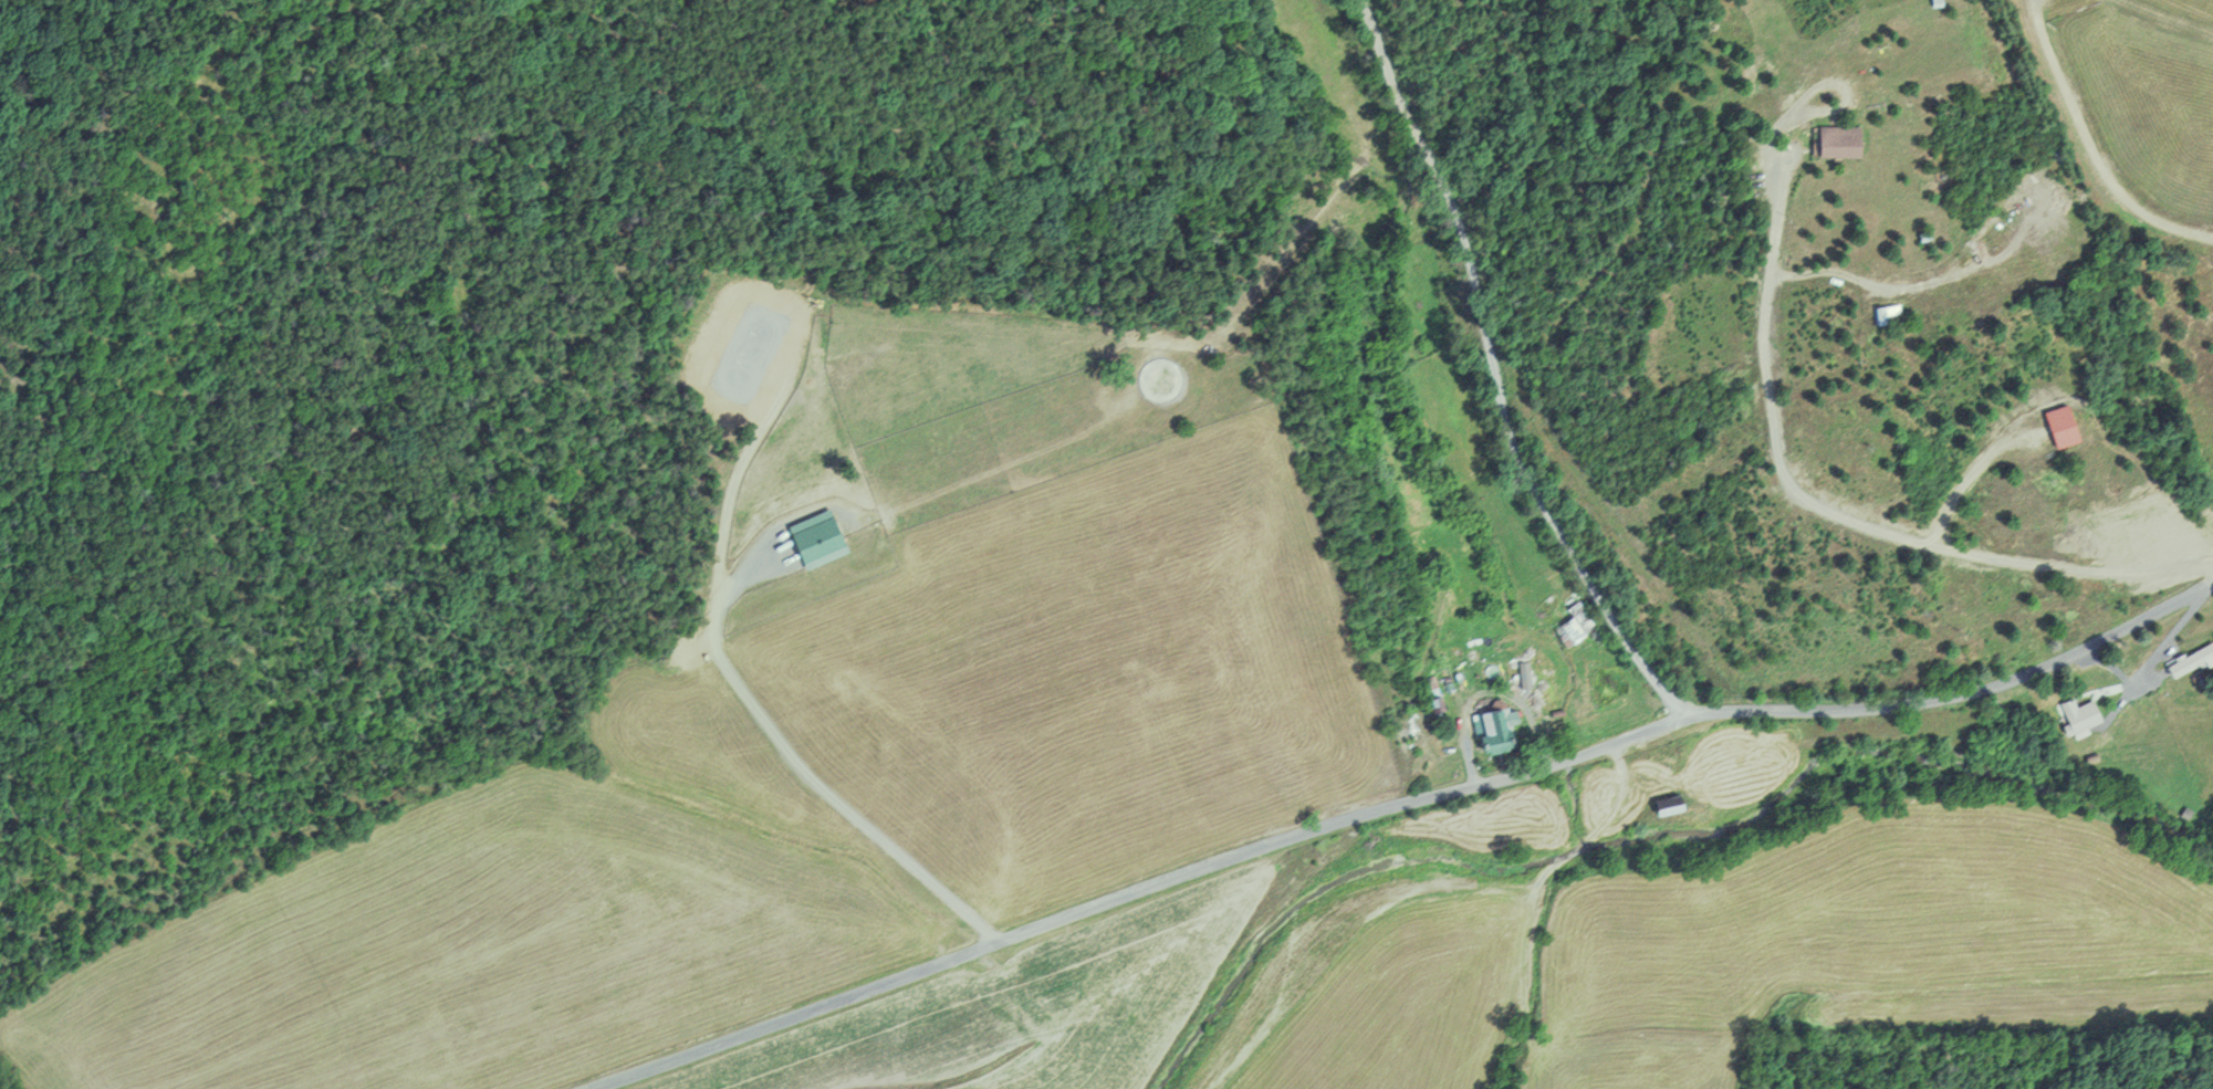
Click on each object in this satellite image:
road: (1845, 88)
building: (1840, 139)
building: (1888, 312)
road: (1496, 370)
building: (2066, 423)
road: (1966, 477)
road: (1820, 507)
building: (1573, 624)
road: (2160, 645)
road: (2116, 687)
building: (2080, 714)
building: (1497, 729)
road: (1391, 807)

